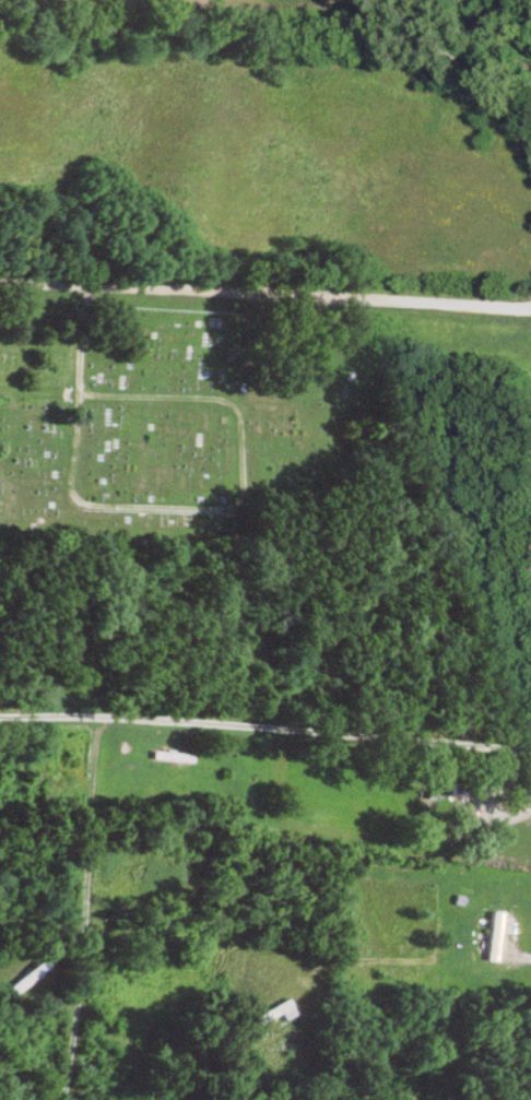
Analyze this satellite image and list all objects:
road: (264, 295)
road: (78, 381)
park: (179, 428)
road: (239, 465)
road: (265, 730)
building: (172, 756)
building: (499, 770)
building: (425, 801)
road: (87, 836)
road: (205, 936)
building: (494, 937)
building: (27, 978)
building: (273, 1015)
road: (308, 1078)

